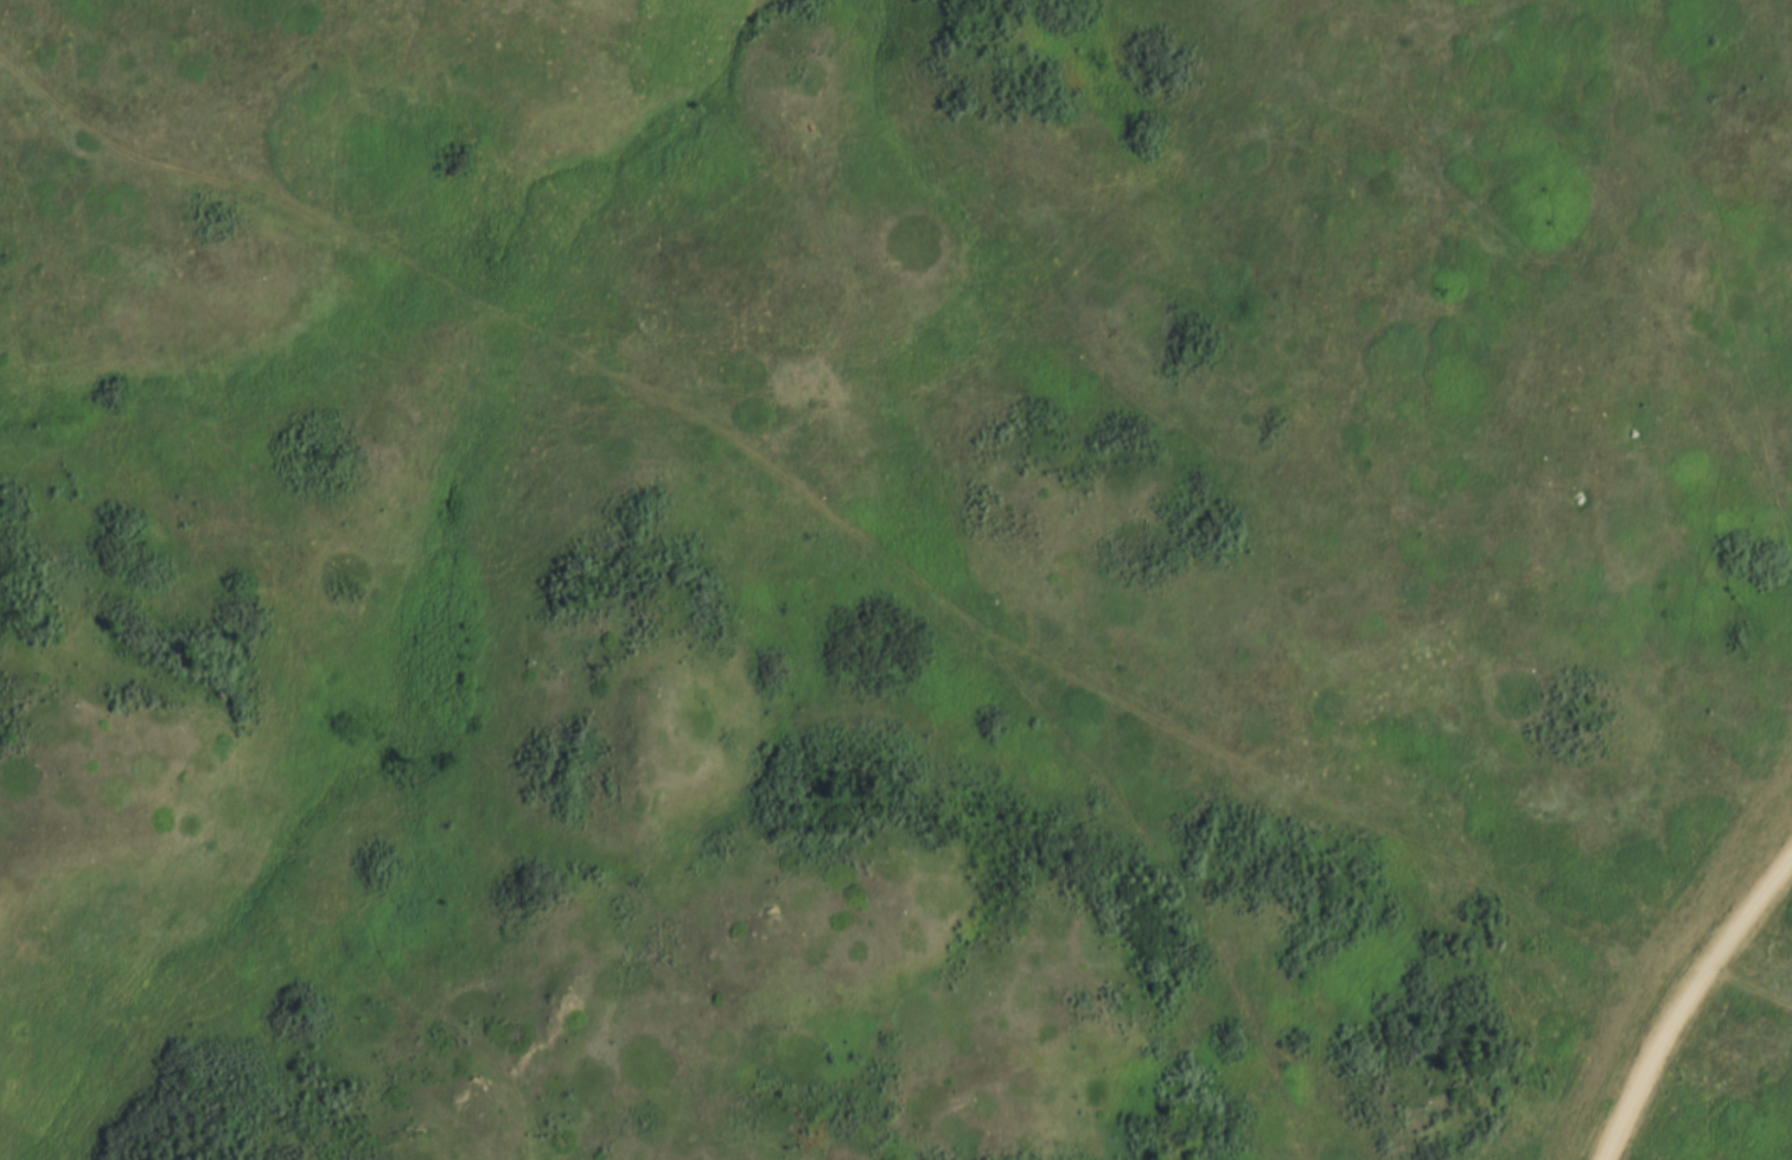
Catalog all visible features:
road: (1676, 989)

